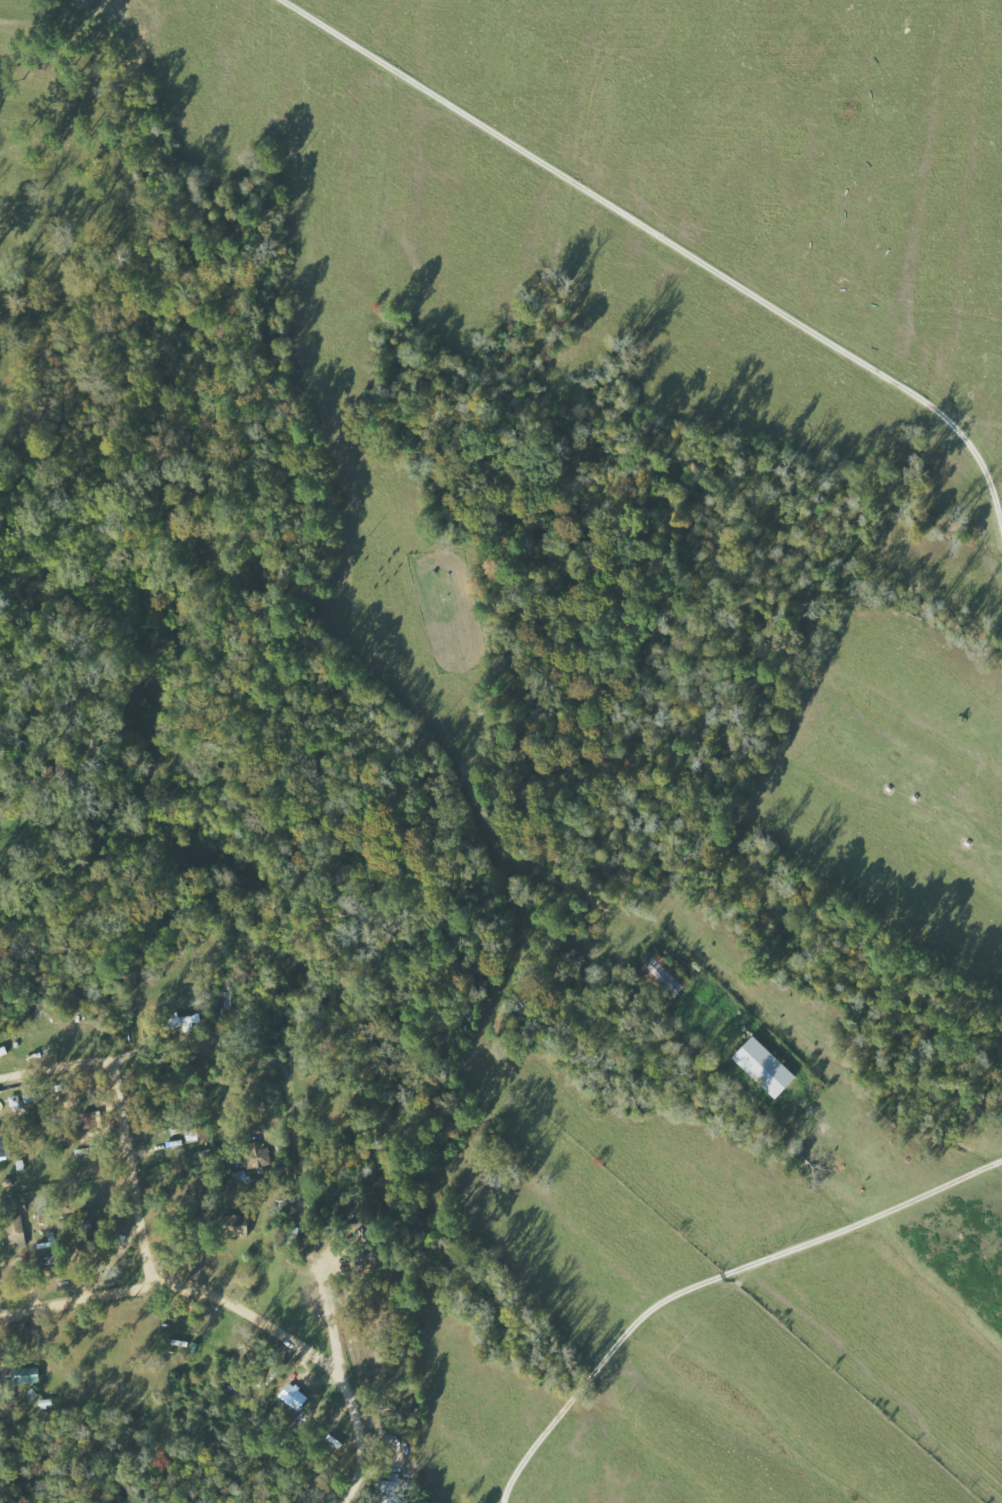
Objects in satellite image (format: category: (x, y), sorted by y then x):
road: (35, 767)
building: (668, 973)
building: (189, 1020)
road: (163, 1051)
building: (767, 1067)
building: (4, 1149)
road: (146, 1166)
building: (242, 1221)
building: (18, 1235)
road: (2, 1273)
road: (83, 1282)
road: (281, 1307)
road: (381, 1329)
building: (27, 1375)
road: (366, 1449)
building: (388, 1492)

